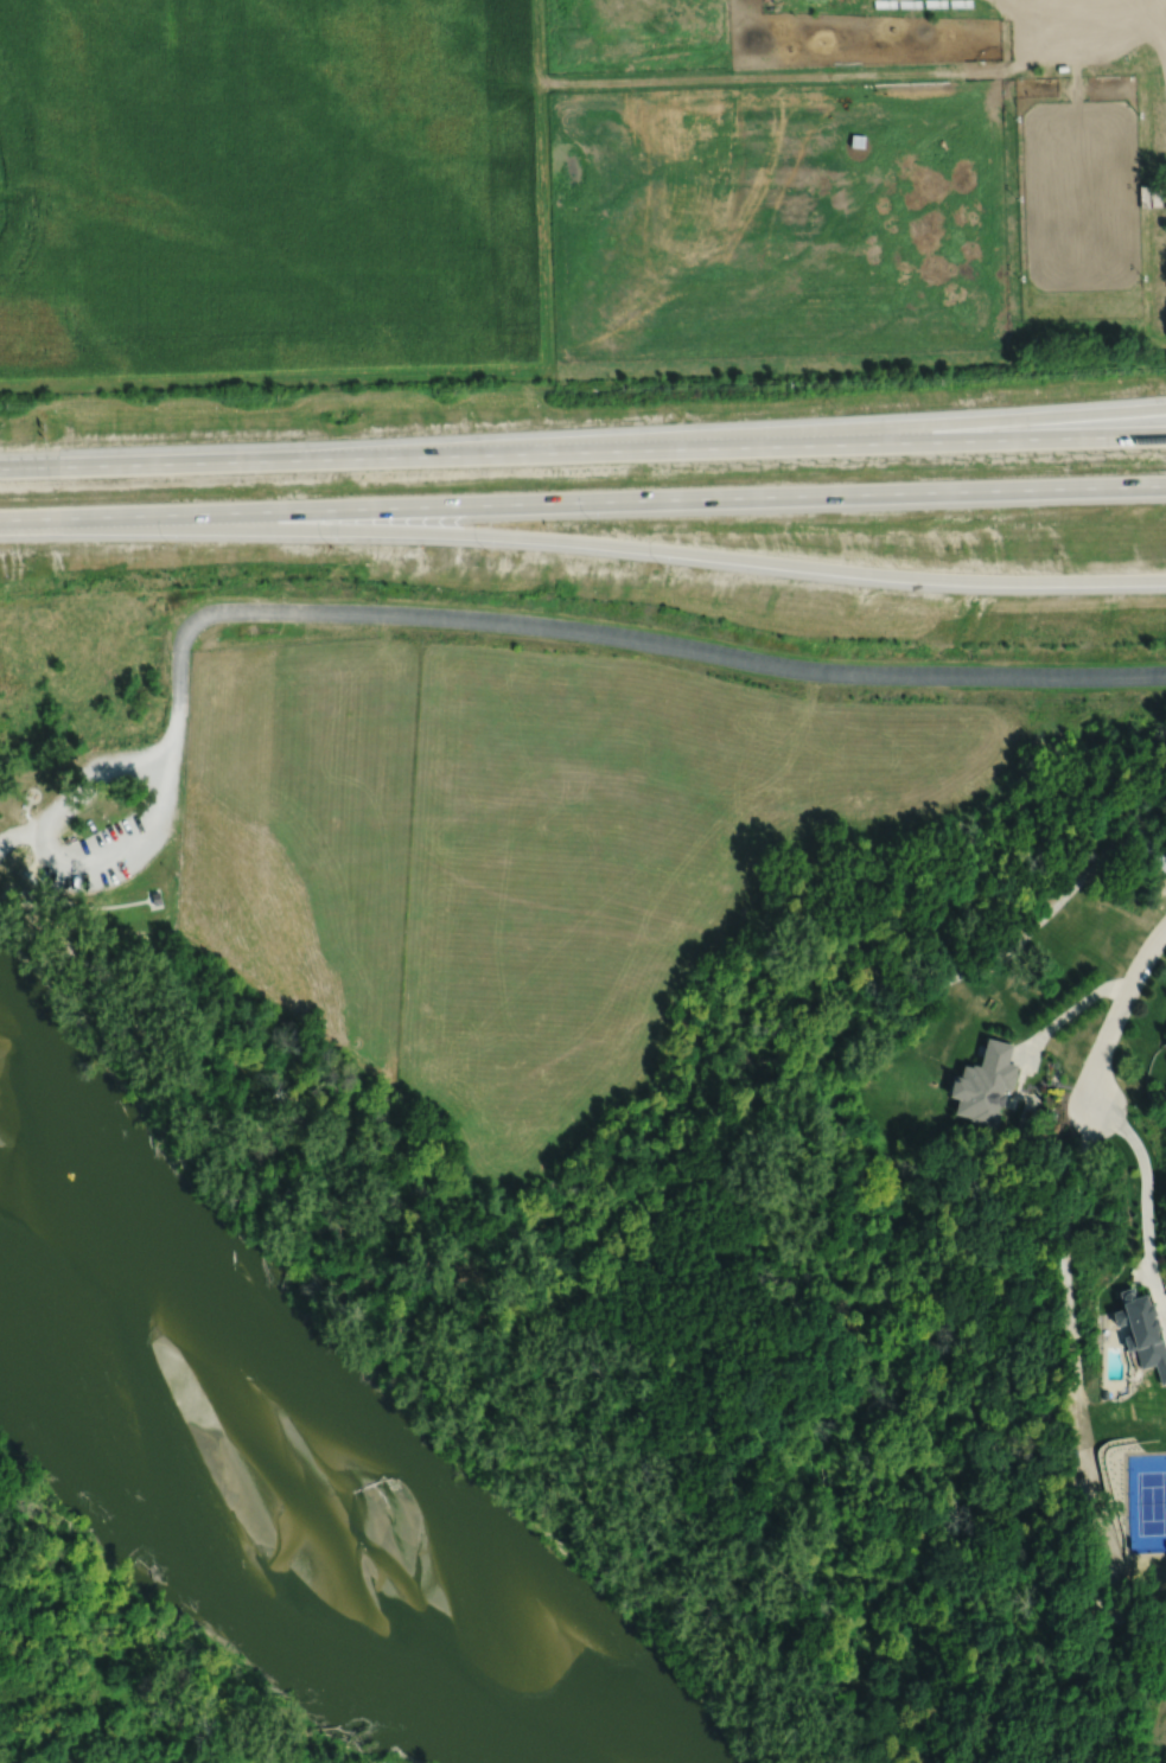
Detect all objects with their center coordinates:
road: (1160, 28)
building: (1148, 194)
road: (786, 434)
road: (582, 451)
road: (582, 502)
road: (25, 530)
road: (609, 549)
road: (618, 635)
park: (90, 809)
road: (58, 864)
road: (1041, 919)
road: (1165, 928)
road: (1119, 1011)
road: (1065, 1015)
building: (985, 1085)
road: (1147, 1203)
building: (1141, 1331)
building: (1104, 1394)
road: (1077, 1443)
river: (269, 1486)
park: (1146, 1500)

